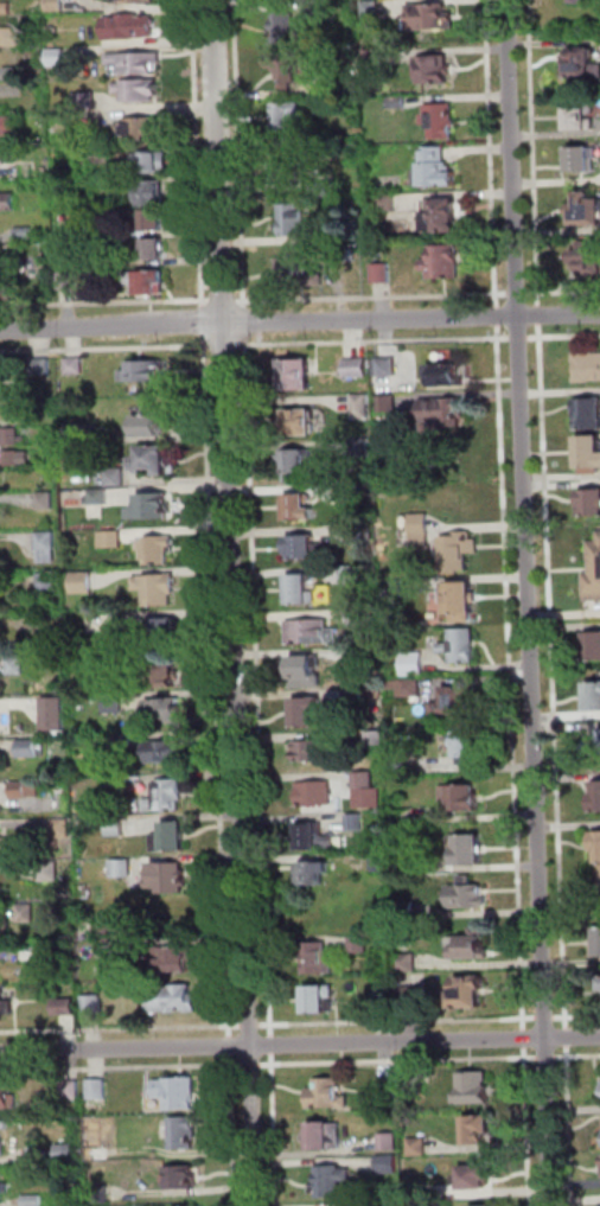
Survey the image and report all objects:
building: (282, 1)
building: (580, 1)
building: (134, 2)
building: (56, 6)
building: (6, 9)
building: (314, 9)
building: (371, 11)
building: (430, 18)
building: (283, 26)
building: (128, 27)
building: (53, 31)
building: (13, 38)
building: (57, 58)
building: (374, 58)
building: (136, 64)
building: (582, 68)
building: (435, 69)
building: (285, 70)
building: (13, 74)
building: (350, 84)
building: (138, 91)
building: (85, 102)
building: (398, 102)
building: (580, 115)
building: (286, 117)
building: (440, 121)
building: (9, 126)
building: (140, 129)
building: (300, 139)
road: (193, 152)
road: (236, 152)
road: (490, 154)
building: (103, 155)
building: (583, 161)
building: (152, 162)
building: (26, 171)
building: (287, 176)
building: (435, 177)
building: (324, 190)
building: (151, 193)
building: (7, 203)
building: (383, 204)
building: (586, 211)
building: (445, 218)
building: (293, 221)
building: (154, 222)
building: (83, 232)
building: (24, 235)
building: (327, 240)
building: (153, 251)
building: (84, 261)
building: (443, 264)
building: (589, 264)
building: (382, 275)
building: (293, 276)
building: (66, 281)
building: (147, 282)
road: (512, 294)
road: (370, 295)
road: (103, 300)
road: (497, 312)
road: (299, 320)
road: (538, 320)
road: (563, 338)
road: (523, 339)
road: (100, 349)
building: (74, 366)
building: (40, 368)
building: (356, 369)
building: (388, 369)
building: (587, 369)
building: (143, 374)
building: (451, 376)
building: (296, 377)
building: (388, 404)
building: (362, 408)
building: (441, 415)
building: (589, 416)
building: (149, 425)
building: (301, 425)
building: (76, 434)
building: (13, 438)
building: (363, 448)
building: (591, 455)
building: (13, 459)
building: (155, 461)
building: (295, 466)
building: (116, 479)
building: (346, 493)
building: (98, 498)
building: (47, 502)
building: (591, 504)
building: (153, 509)
building: (300, 511)
building: (421, 531)
building: (356, 536)
building: (111, 541)
building: (47, 548)
building: (302, 549)
building: (158, 550)
building: (459, 553)
building: (351, 575)
building: (593, 575)
building: (84, 583)
building: (49, 587)
building: (394, 589)
building: (155, 592)
building: (301, 592)
road: (230, 602)
building: (462, 602)
road: (528, 602)
building: (359, 619)
building: (312, 633)
building: (164, 636)
building: (461, 647)
building: (594, 647)
building: (413, 664)
building: (17, 668)
building: (306, 674)
road: (551, 677)
building: (167, 679)
building: (406, 688)
road: (213, 691)
building: (594, 697)
building: (353, 698)
building: (115, 703)
building: (455, 703)
building: (165, 710)
building: (307, 714)
building: (55, 716)
building: (375, 740)
building: (126, 741)
building: (470, 747)
building: (595, 747)
building: (30, 749)
building: (165, 753)
building: (318, 753)
building: (400, 767)
building: (364, 781)
building: (117, 785)
building: (25, 791)
building: (315, 796)
building: (167, 798)
building: (596, 798)
building: (461, 799)
building: (355, 823)
building: (117, 829)
building: (60, 830)
building: (172, 840)
building: (374, 840)
building: (317, 841)
building: (598, 842)
building: (6, 844)
building: (470, 853)
building: (379, 862)
building: (414, 867)
building: (122, 870)
building: (50, 873)
building: (314, 875)
building: (168, 880)
building: (4, 893)
building: (467, 896)
building: (406, 911)
building: (27, 915)
building: (6, 930)
building: (107, 933)
building: (596, 940)
building: (359, 946)
building: (473, 947)
building: (28, 956)
building: (172, 962)
building: (318, 962)
building: (408, 964)
building: (1, 969)
building: (599, 982)
building: (409, 996)
building: (467, 996)
building: (383, 998)
building: (173, 1001)
building: (319, 1001)
building: (4, 1007)
building: (94, 1008)
building: (68, 1009)
road: (576, 1016)
road: (548, 1017)
road: (244, 1027)
road: (120, 1028)
road: (567, 1038)
road: (524, 1044)
road: (300, 1045)
road: (230, 1046)
road: (272, 1049)
road: (577, 1057)
road: (547, 1058)
road: (398, 1060)
road: (253, 1066)
road: (121, 1070)
building: (416, 1086)
building: (388, 1087)
building: (473, 1089)
building: (98, 1090)
building: (71, 1093)
building: (178, 1093)
building: (328, 1095)
building: (8, 1098)
road: (569, 1125)
road: (528, 1127)
road: (274, 1129)
road: (232, 1130)
building: (480, 1132)
building: (184, 1135)
building: (326, 1136)
building: (389, 1143)
building: (419, 1148)
building: (2, 1149)
building: (66, 1153)
building: (37, 1156)
building: (389, 1167)
building: (479, 1178)
building: (183, 1179)
building: (332, 1182)
building: (1, 1185)
building: (4, 1189)
building: (101, 1194)
building: (419, 1195)
building: (33, 1201)
building: (484, 1205)

